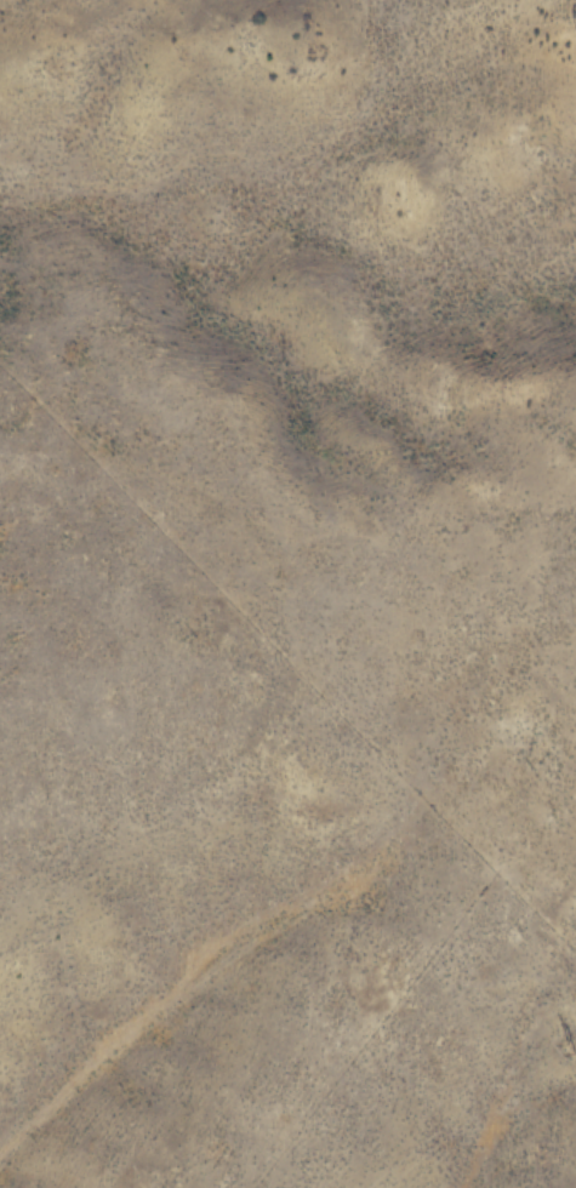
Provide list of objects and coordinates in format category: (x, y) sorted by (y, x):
power tower: (574, 1049)

